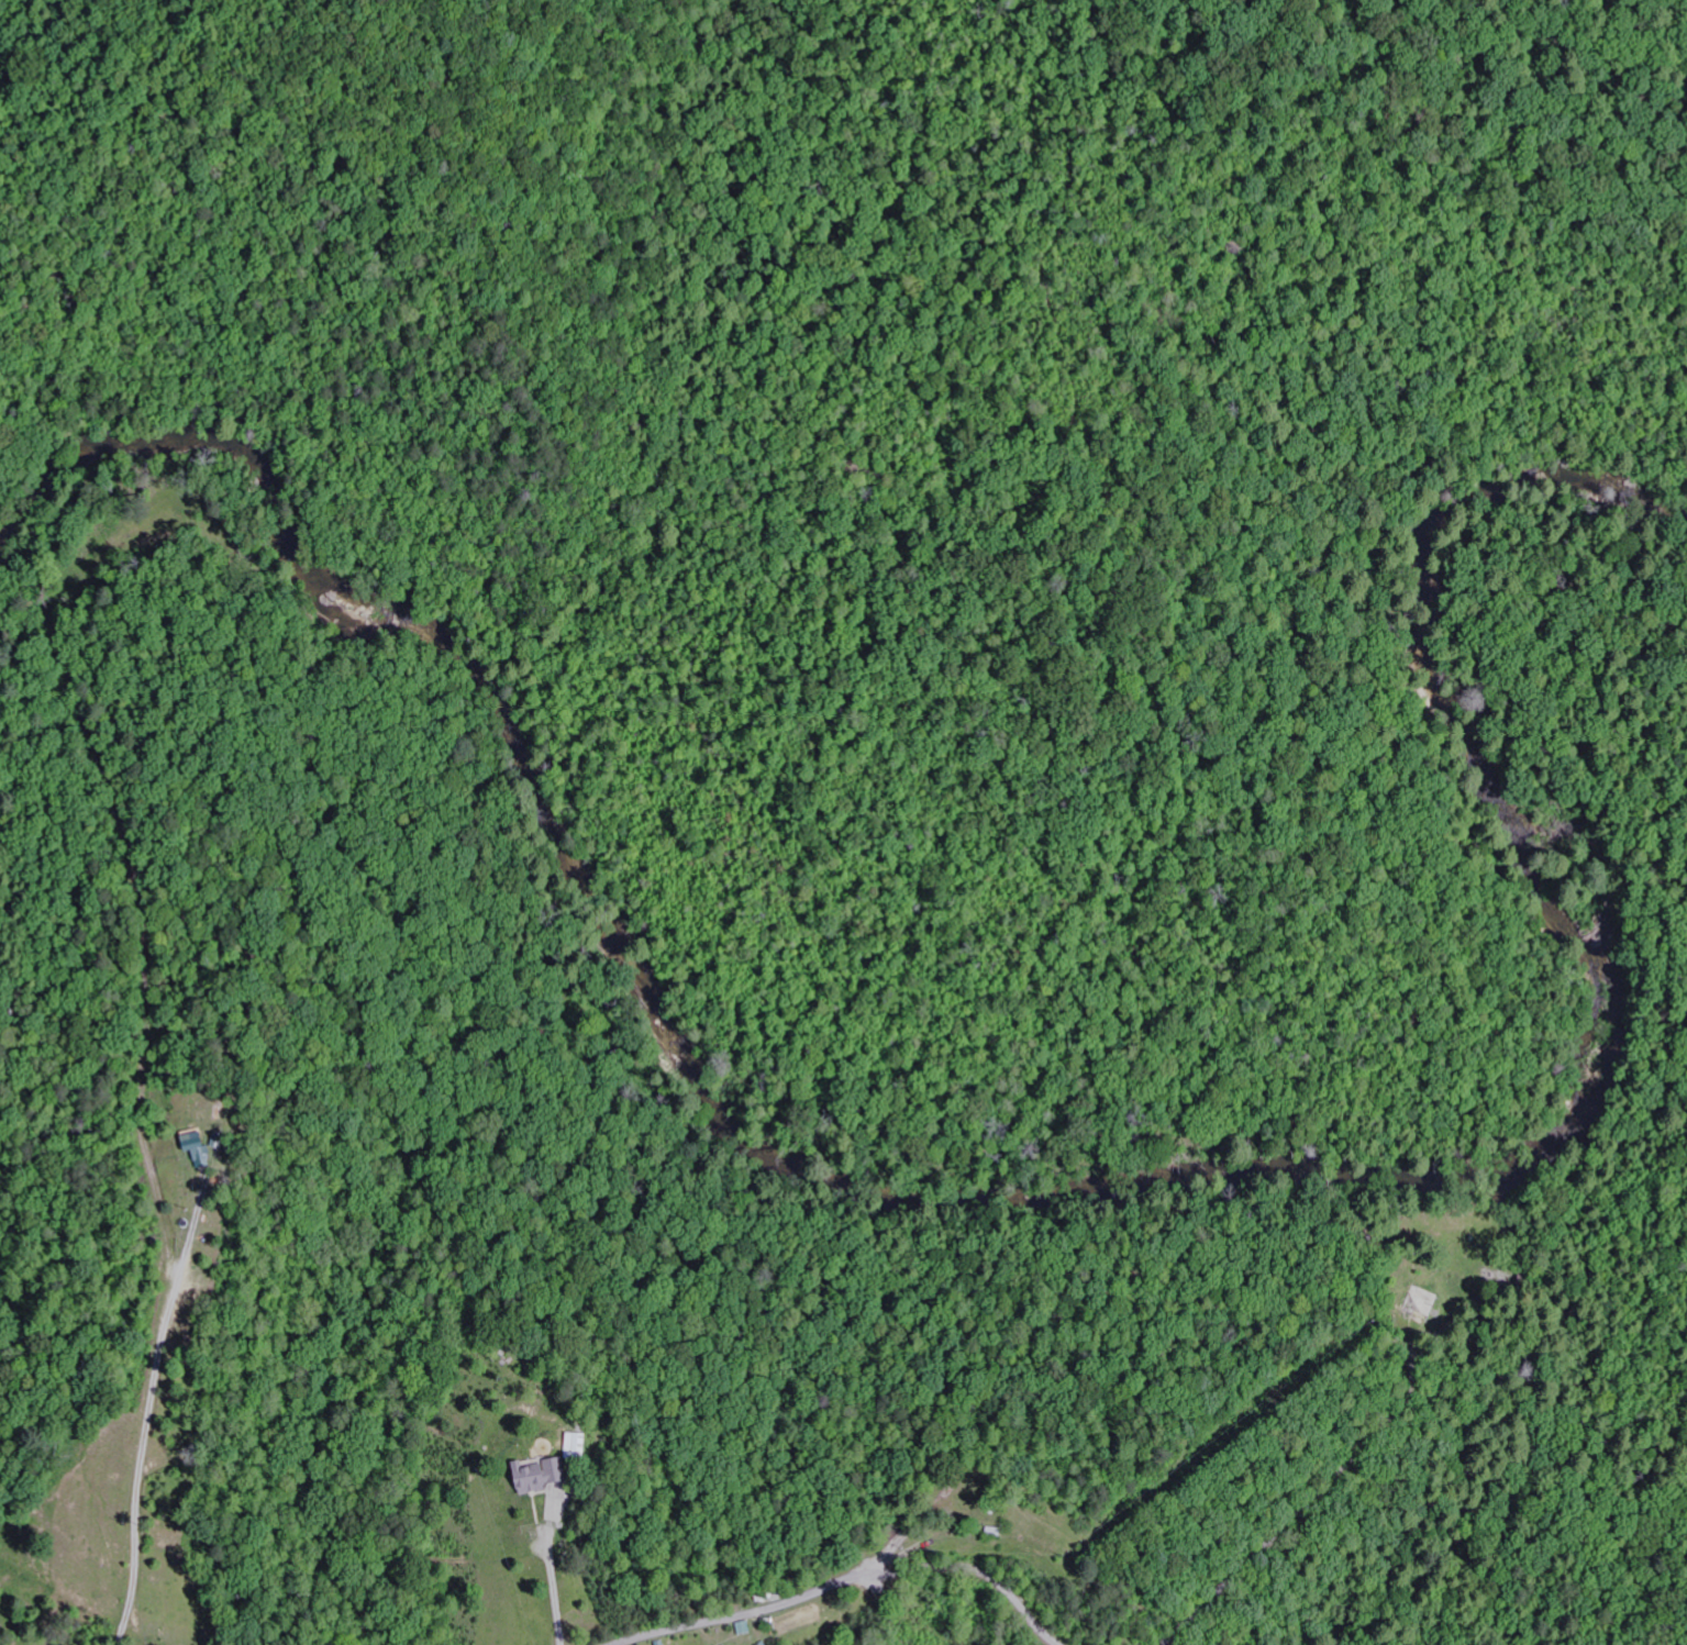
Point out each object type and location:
building: (200, 1147)
building: (542, 1474)
road: (852, 1580)
building: (747, 1626)
building: (737, 1644)

